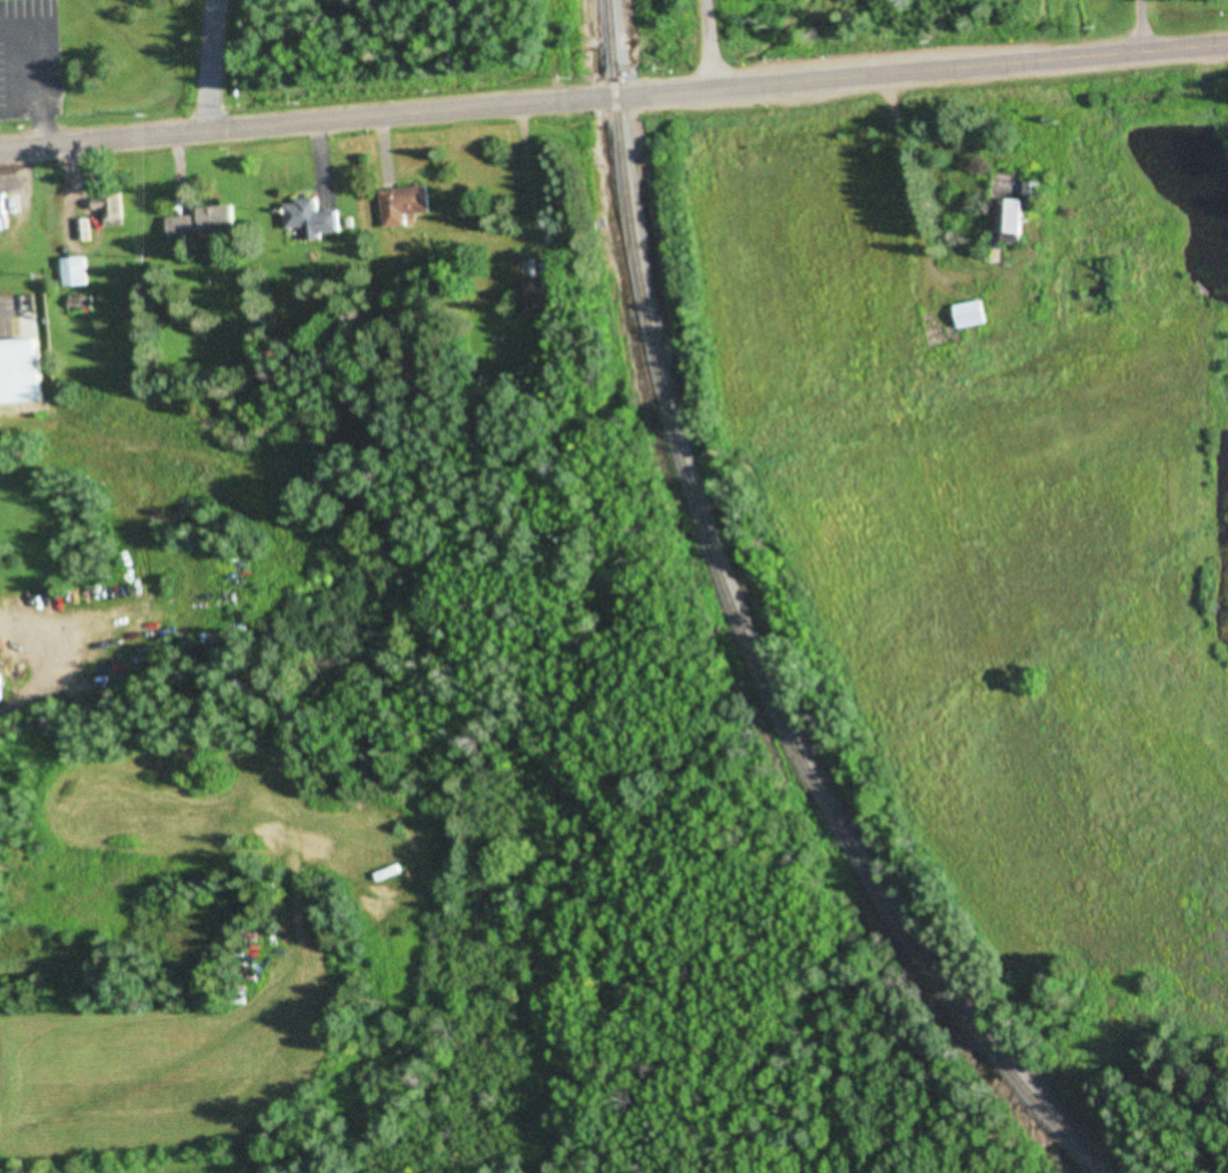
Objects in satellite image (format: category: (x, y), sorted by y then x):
road: (42, 43)
road: (708, 45)
parking lot: (29, 57)
road: (209, 64)
road: (613, 97)
road: (22, 107)
road: (45, 125)
building: (4, 205)
building: (407, 205)
building: (111, 209)
building: (1024, 213)
building: (312, 218)
building: (204, 224)
building: (73, 271)
building: (536, 295)
building: (975, 314)
building: (18, 369)
railway: (740, 635)
building: (1, 688)

